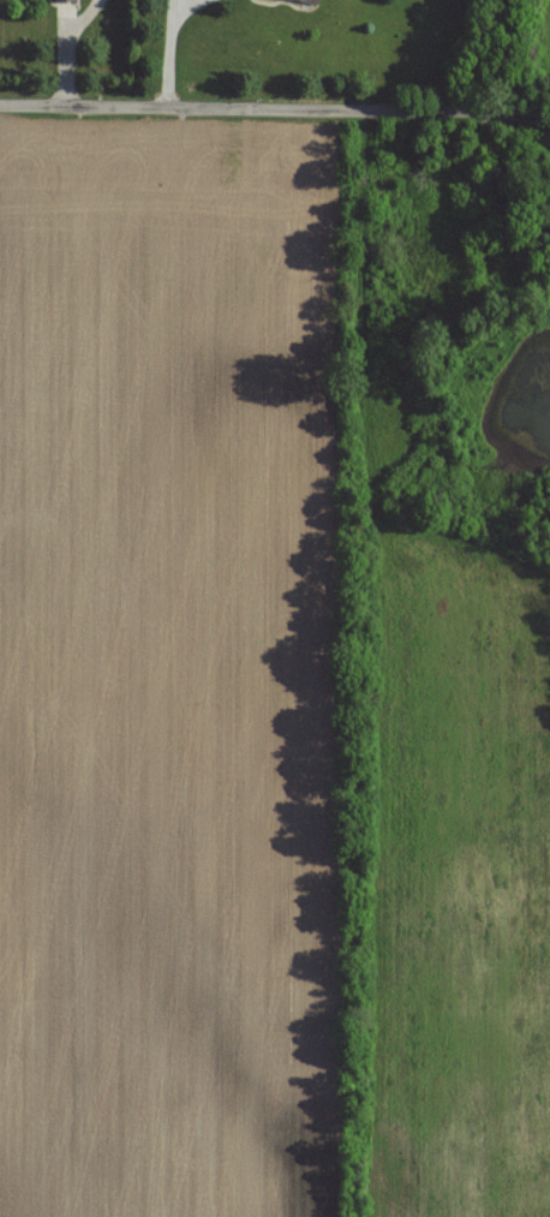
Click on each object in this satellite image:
building: (65, 1)
road: (171, 2)
road: (181, 2)
building: (303, 2)
road: (166, 55)
road: (275, 109)

